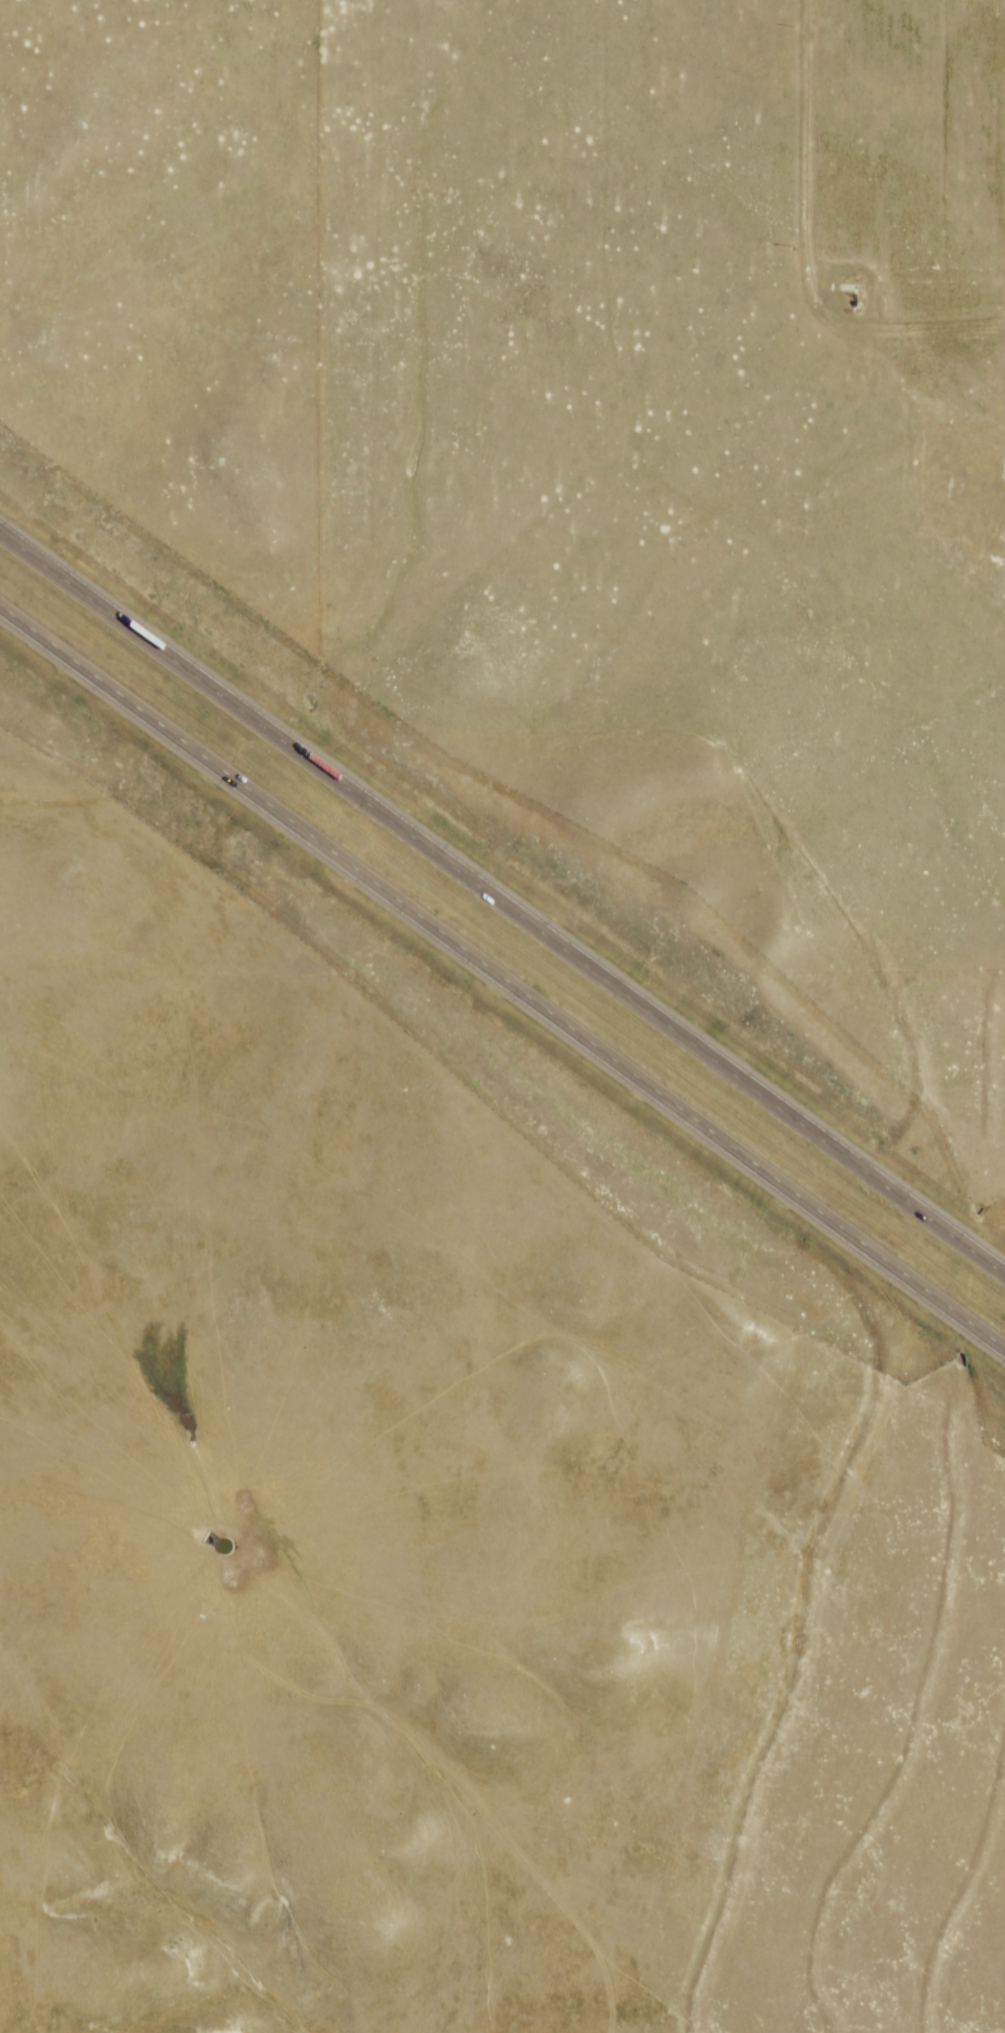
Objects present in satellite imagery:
road: (502, 899)
road: (502, 975)

